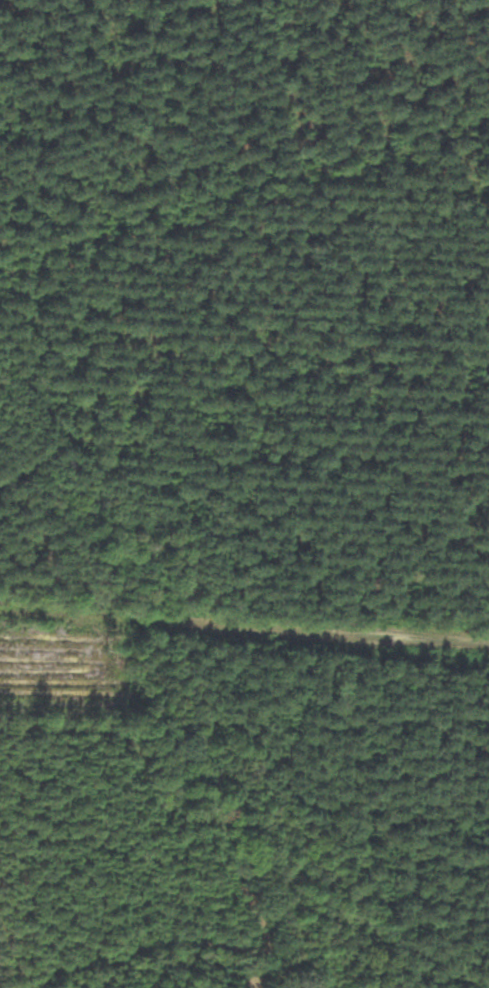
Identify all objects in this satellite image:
road: (275, 637)

